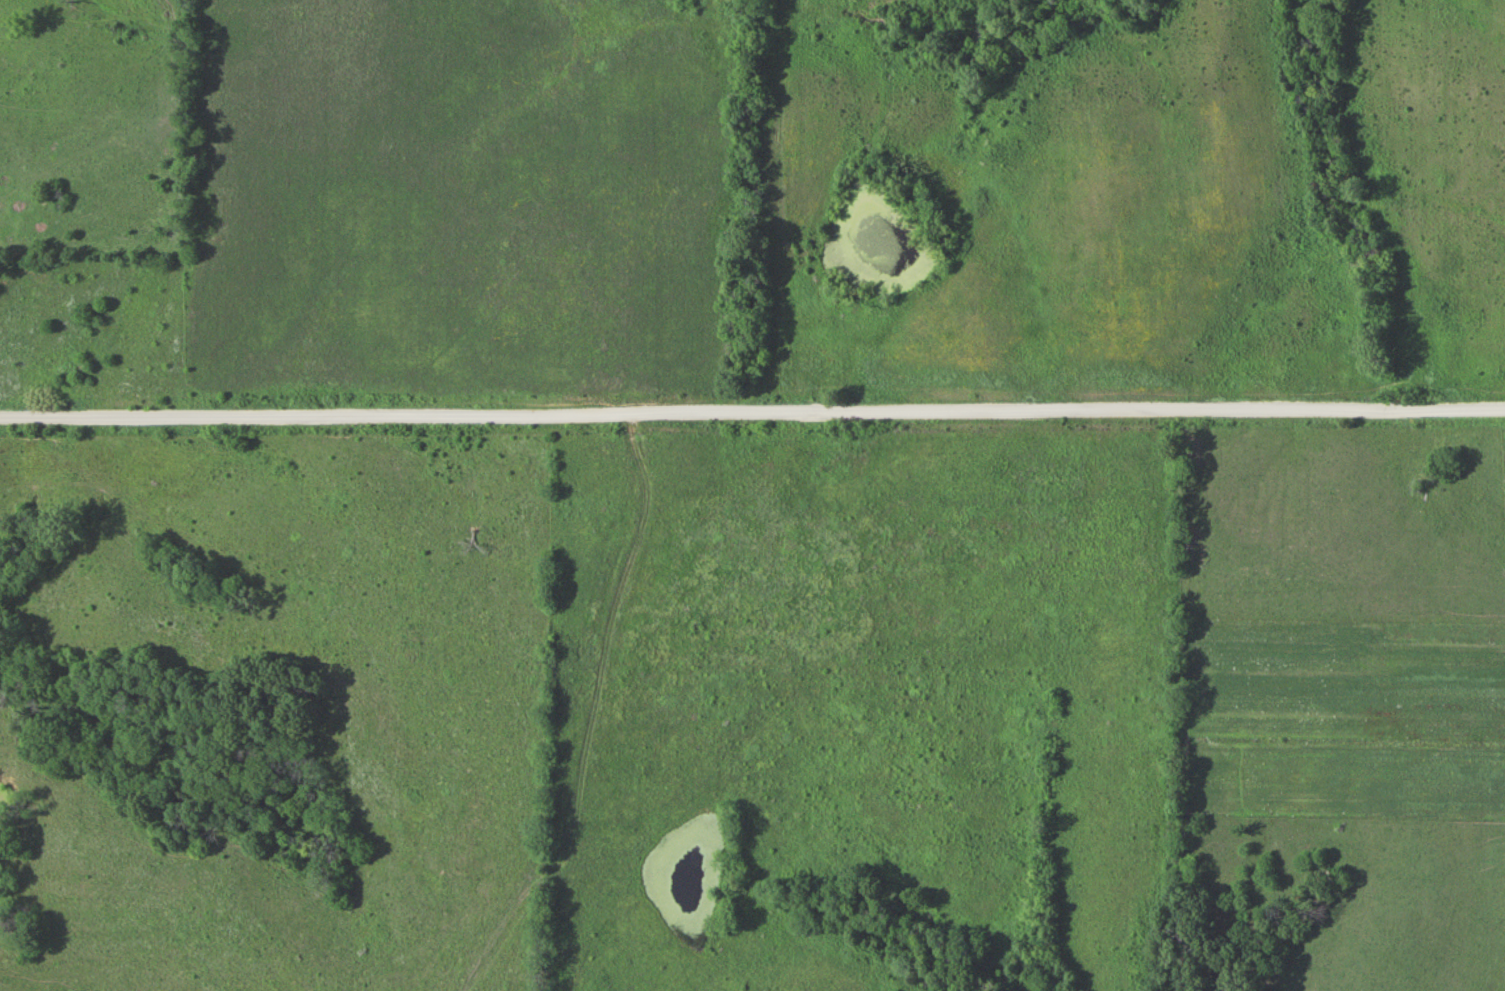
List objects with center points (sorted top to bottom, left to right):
road: (752, 413)

